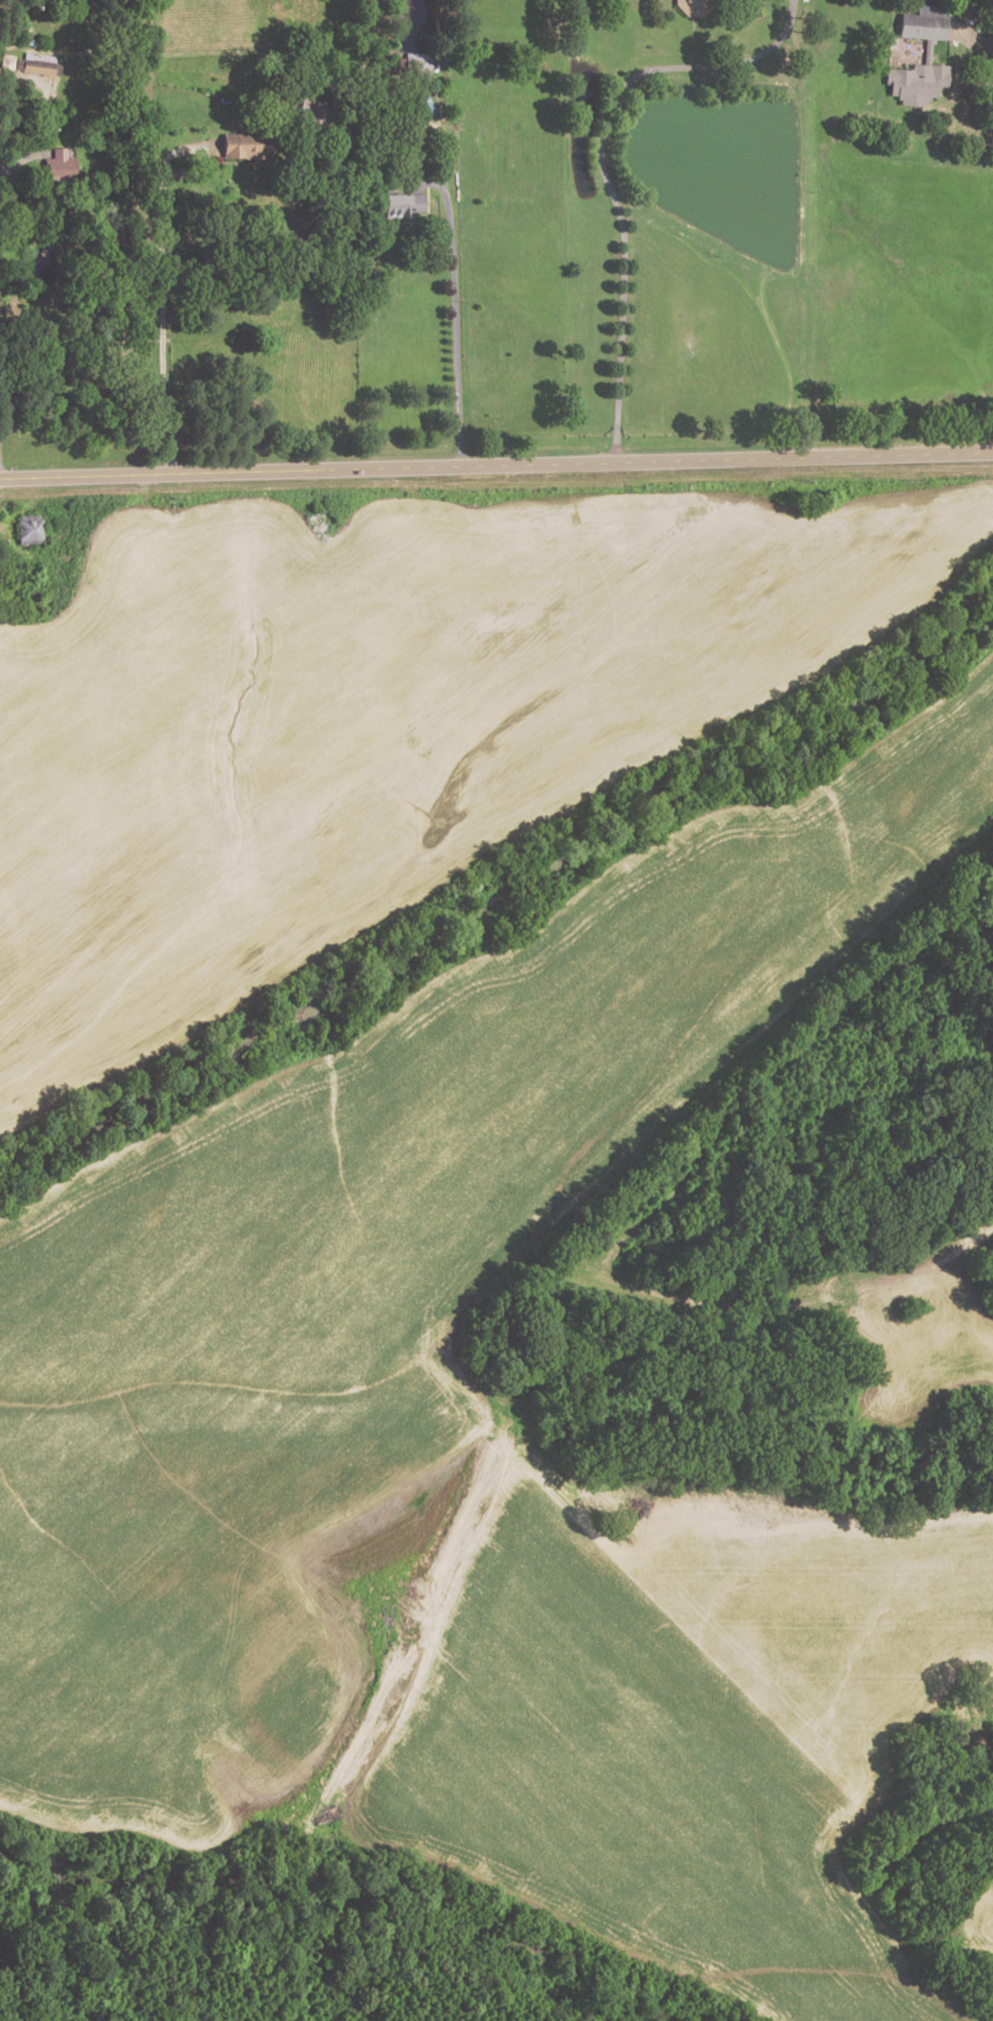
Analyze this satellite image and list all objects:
building: (693, 7)
building: (924, 20)
road: (691, 28)
building: (30, 40)
road: (975, 41)
road: (991, 50)
building: (927, 51)
building: (6, 60)
building: (38, 63)
building: (418, 65)
building: (916, 83)
road: (10, 101)
building: (424, 104)
building: (246, 146)
road: (19, 158)
building: (59, 166)
road: (599, 166)
building: (402, 207)
road: (160, 297)
road: (452, 308)
road: (496, 465)
building: (28, 531)
road: (3, 537)

